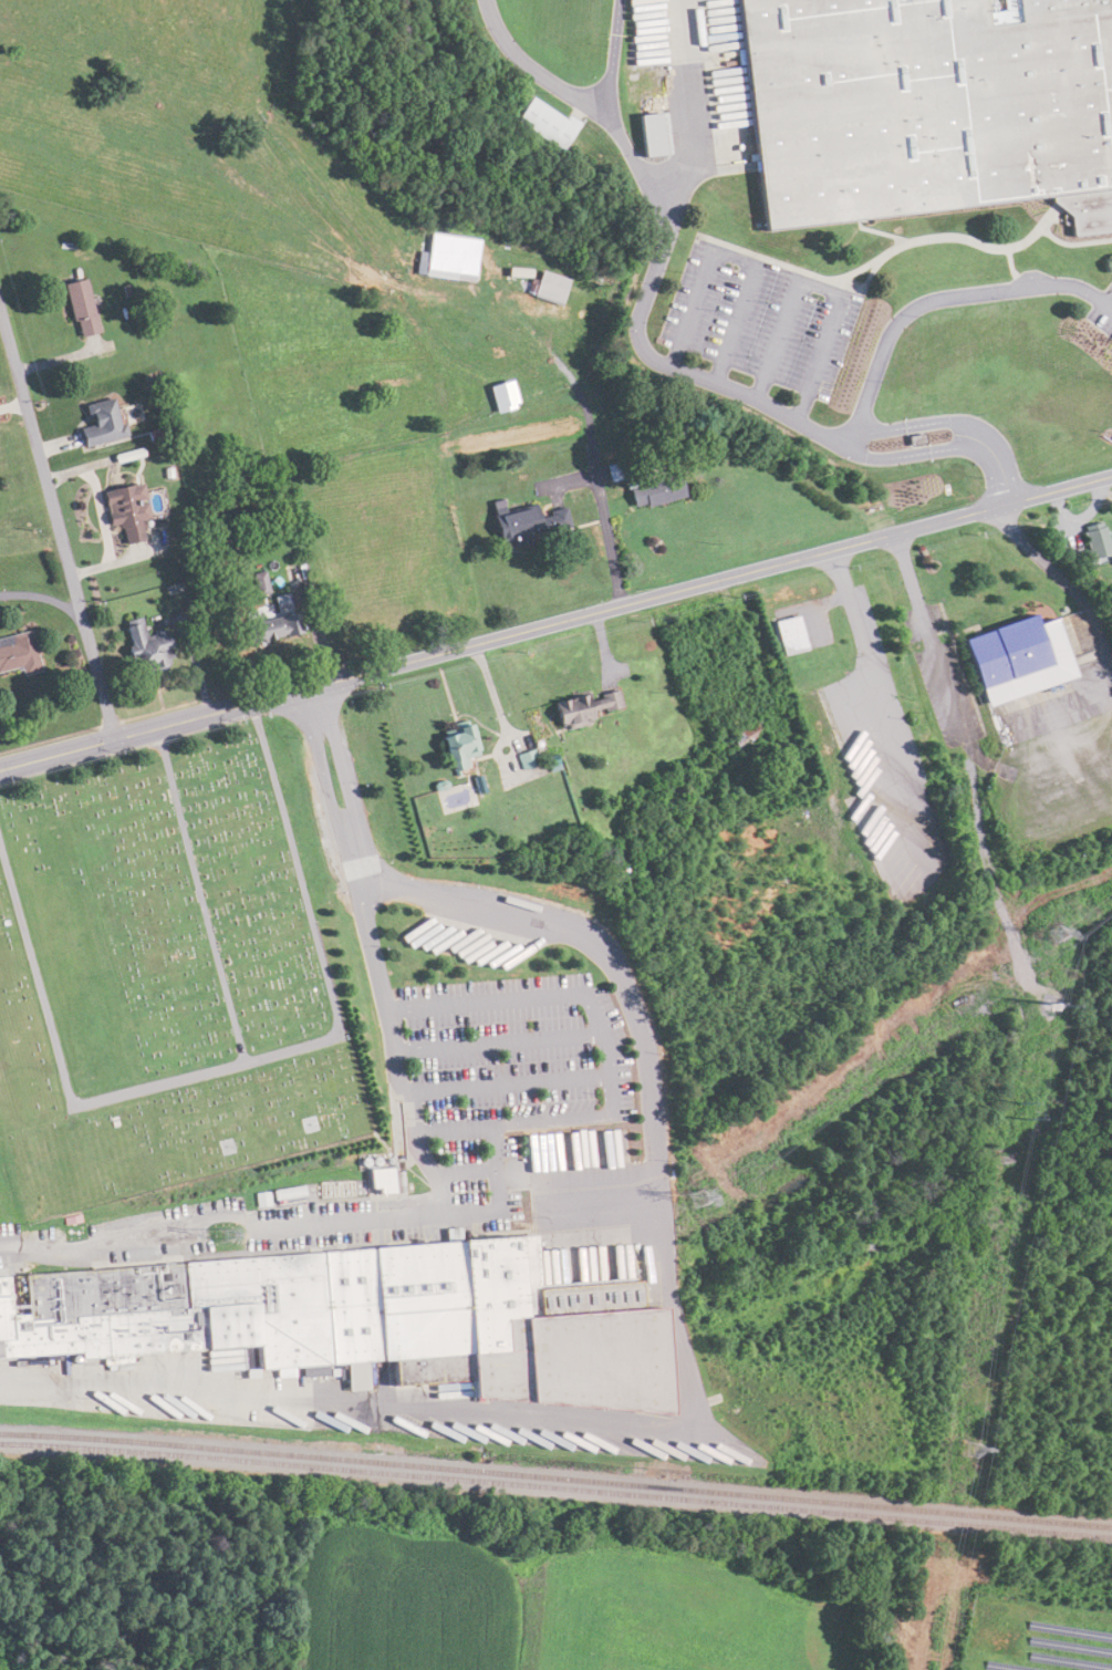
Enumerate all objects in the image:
building: (929, 108)
building: (542, 122)
building: (648, 133)
road: (661, 249)
road: (734, 255)
building: (449, 267)
road: (825, 290)
building: (545, 291)
road: (946, 298)
building: (77, 307)
building: (501, 396)
building: (98, 423)
road: (910, 425)
road: (908, 453)
road: (999, 464)
building: (538, 489)
building: (653, 491)
building: (119, 512)
building: (528, 521)
road: (58, 523)
road: (605, 532)
building: (1093, 540)
road: (731, 575)
building: (280, 603)
building: (270, 627)
building: (789, 635)
road: (929, 640)
building: (144, 647)
building: (1012, 650)
building: (17, 653)
road: (313, 701)
road: (882, 702)
building: (582, 707)
road: (158, 710)
road: (108, 723)
road: (176, 723)
building: (744, 735)
road: (49, 738)
building: (455, 746)
building: (523, 759)
road: (347, 828)
park: (162, 974)
road: (497, 1046)
road: (646, 1046)
road: (601, 1052)
road: (506, 1088)
road: (491, 1152)
road: (414, 1213)
building: (355, 1321)
railway: (555, 1476)

